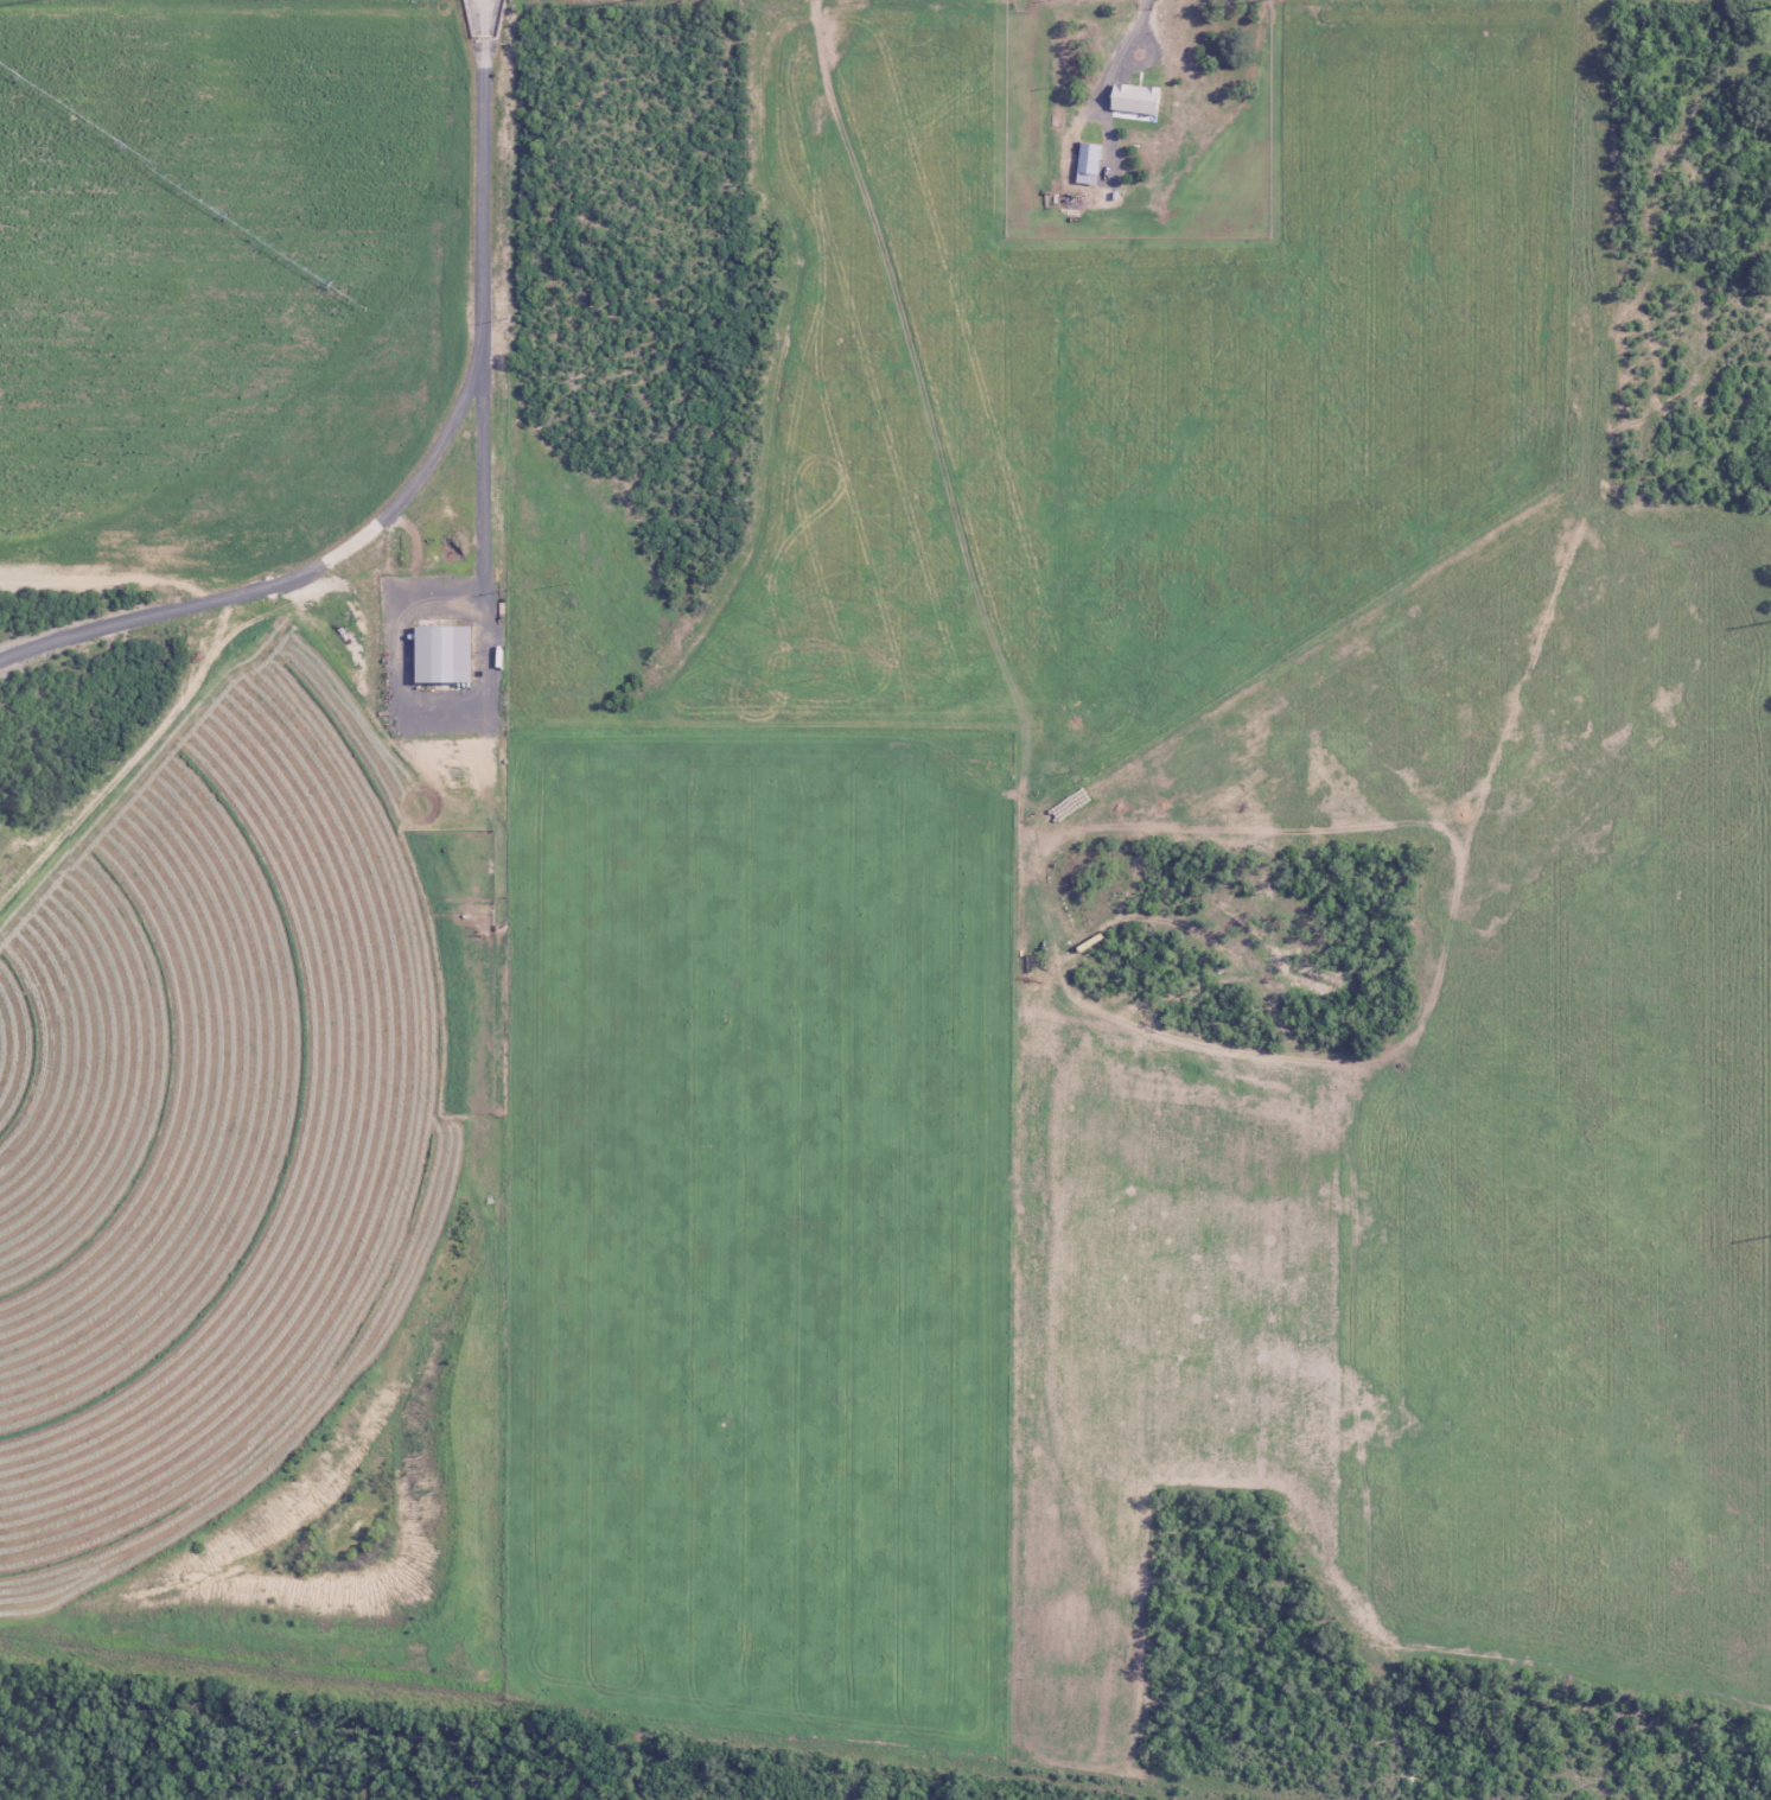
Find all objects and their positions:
building: (1139, 98)
road: (483, 339)
road: (299, 575)
building: (448, 655)
road: (512, 1744)

